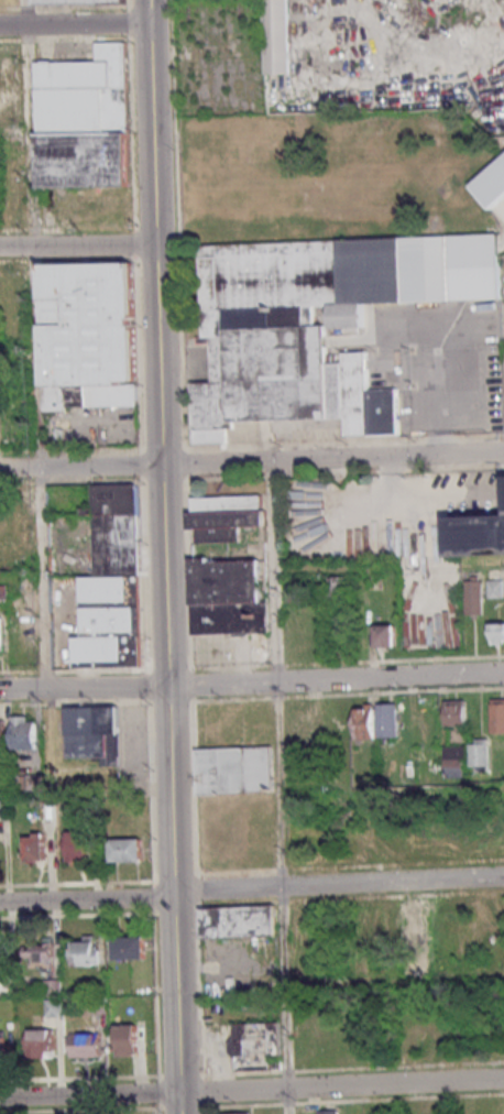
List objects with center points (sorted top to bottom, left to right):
building: (65, 1)
road: (24, 12)
road: (73, 24)
building: (274, 36)
building: (11, 83)
building: (81, 120)
road: (14, 134)
building: (490, 184)
road: (33, 245)
road: (76, 245)
building: (263, 335)
building: (86, 336)
road: (19, 349)
road: (502, 451)
road: (329, 458)
road: (79, 467)
building: (224, 516)
building: (475, 535)
road: (163, 556)
road: (188, 556)
road: (21, 569)
road: (272, 571)
road: (43, 578)
building: (111, 581)
building: (472, 594)
building: (227, 597)
building: (0, 633)
building: (496, 633)
building: (384, 635)
road: (336, 678)
road: (85, 687)
building: (456, 711)
building: (496, 714)
building: (387, 720)
building: (364, 721)
building: (295, 722)
building: (94, 732)
building: (23, 733)
building: (1, 735)
building: (479, 752)
building: (454, 760)
building: (234, 769)
road: (276, 782)
building: (76, 844)
building: (34, 849)
building: (125, 850)
road: (339, 880)
road: (88, 894)
building: (239, 920)
building: (413, 925)
building: (129, 947)
building: (88, 950)
building: (43, 954)
building: (3, 955)
road: (393, 974)
road: (283, 998)
building: (127, 1039)
building: (41, 1042)
building: (2, 1044)
building: (86, 1045)
building: (256, 1046)
road: (341, 1084)
road: (89, 1095)
building: (329, 1112)
building: (239, 1113)

